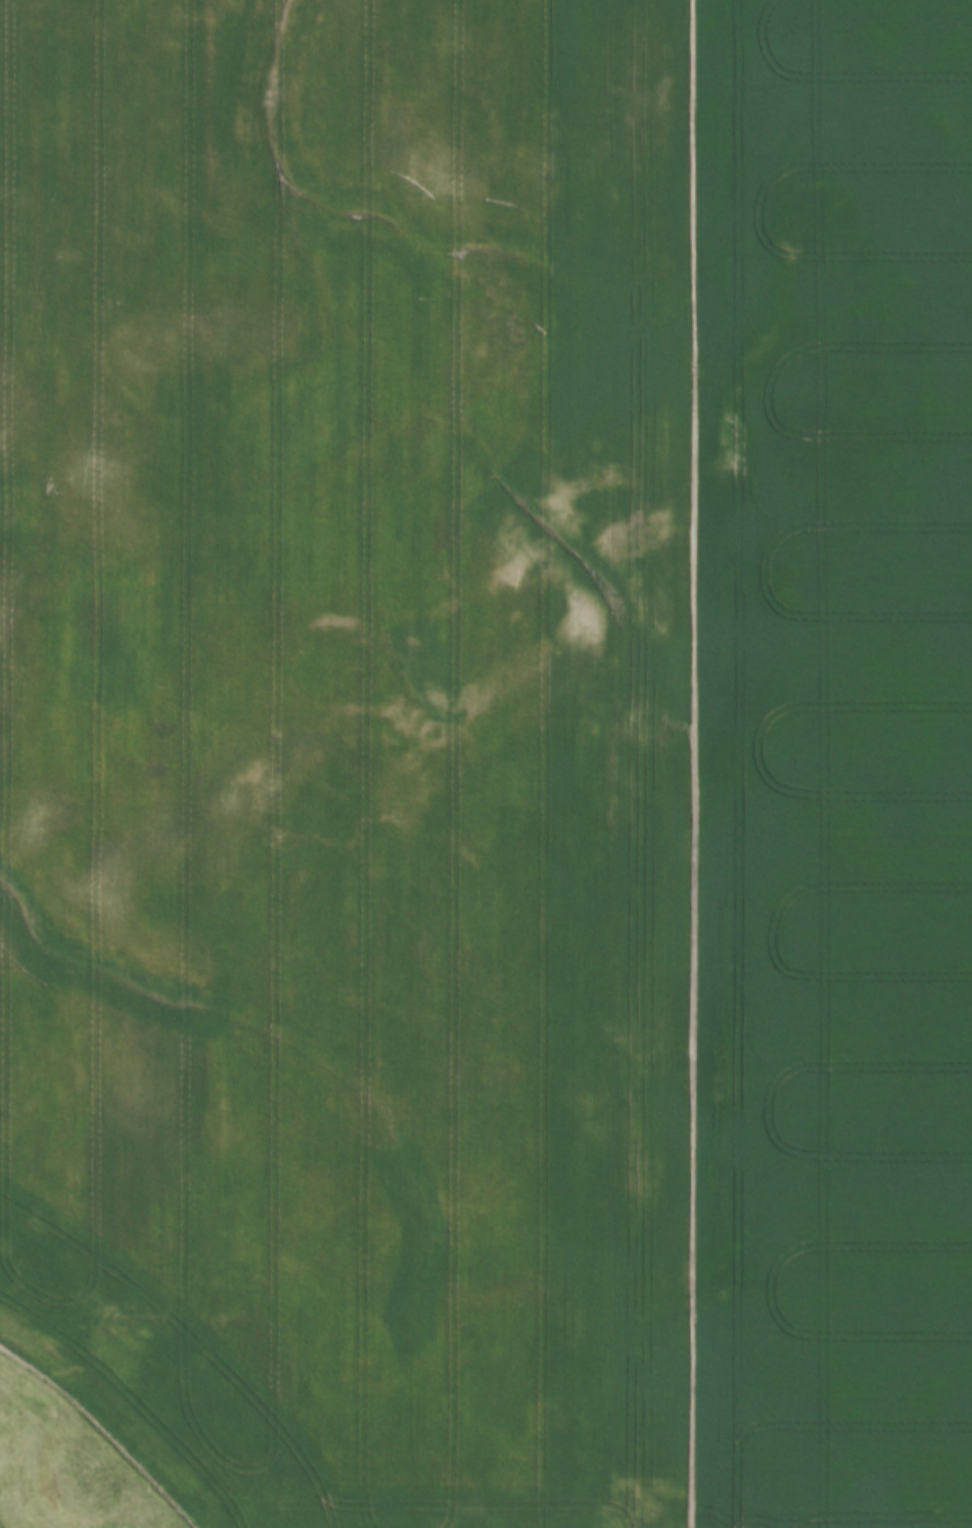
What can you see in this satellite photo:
road: (698, 764)

